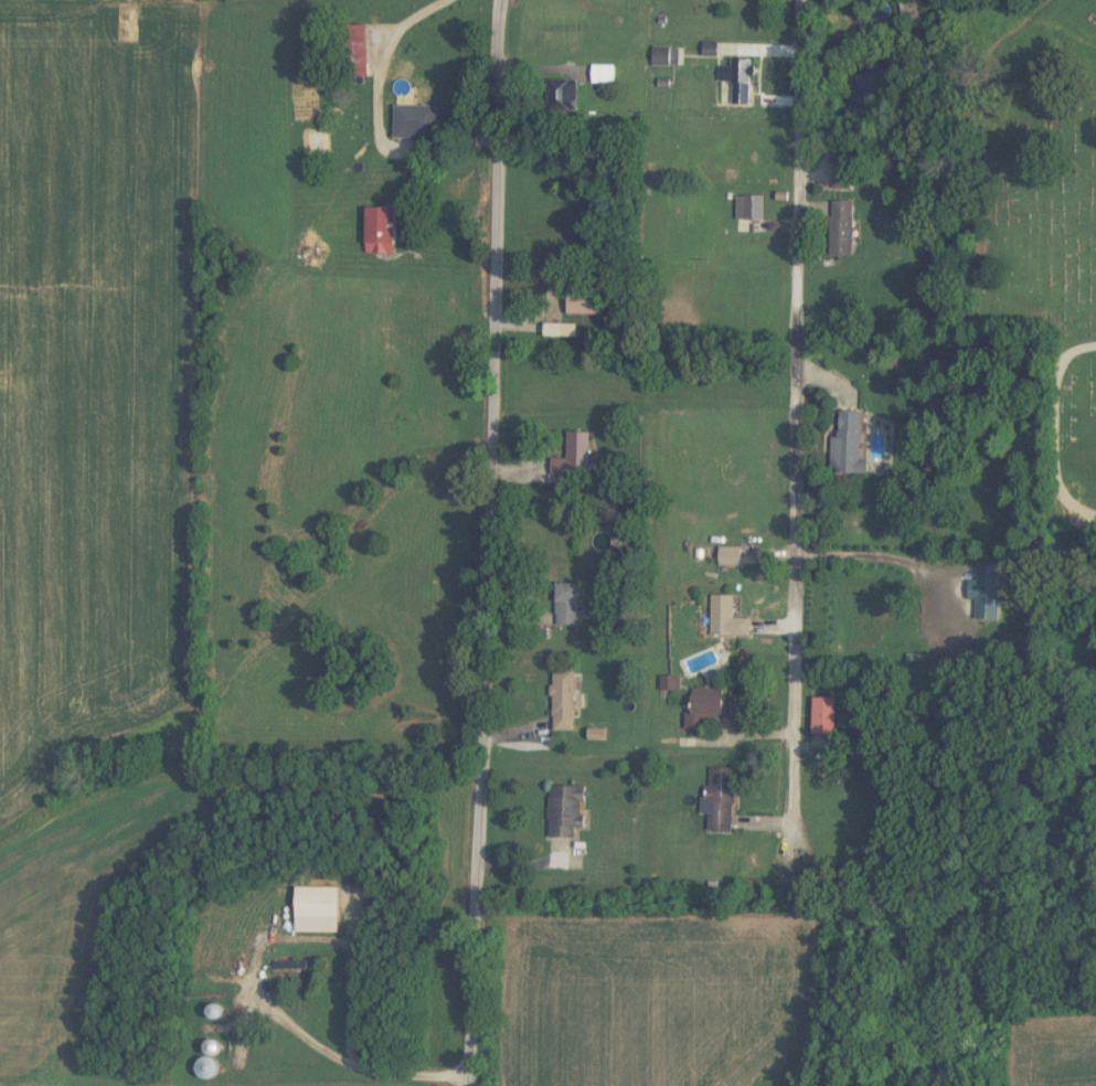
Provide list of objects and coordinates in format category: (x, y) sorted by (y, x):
building: (915, 9)
building: (357, 51)
building: (666, 56)
building: (604, 74)
building: (735, 82)
building: (858, 88)
building: (562, 91)
road: (374, 115)
building: (426, 120)
building: (318, 142)
building: (844, 174)
building: (754, 209)
building: (843, 228)
building: (382, 230)
building: (586, 302)
road: (792, 434)
building: (850, 446)
building: (571, 455)
road: (485, 543)
building: (986, 583)
building: (570, 604)
building: (727, 619)
building: (564, 701)
building: (713, 707)
building: (827, 717)
building: (721, 799)
building: (567, 811)
building: (318, 911)
road: (321, 1053)
building: (209, 1068)

